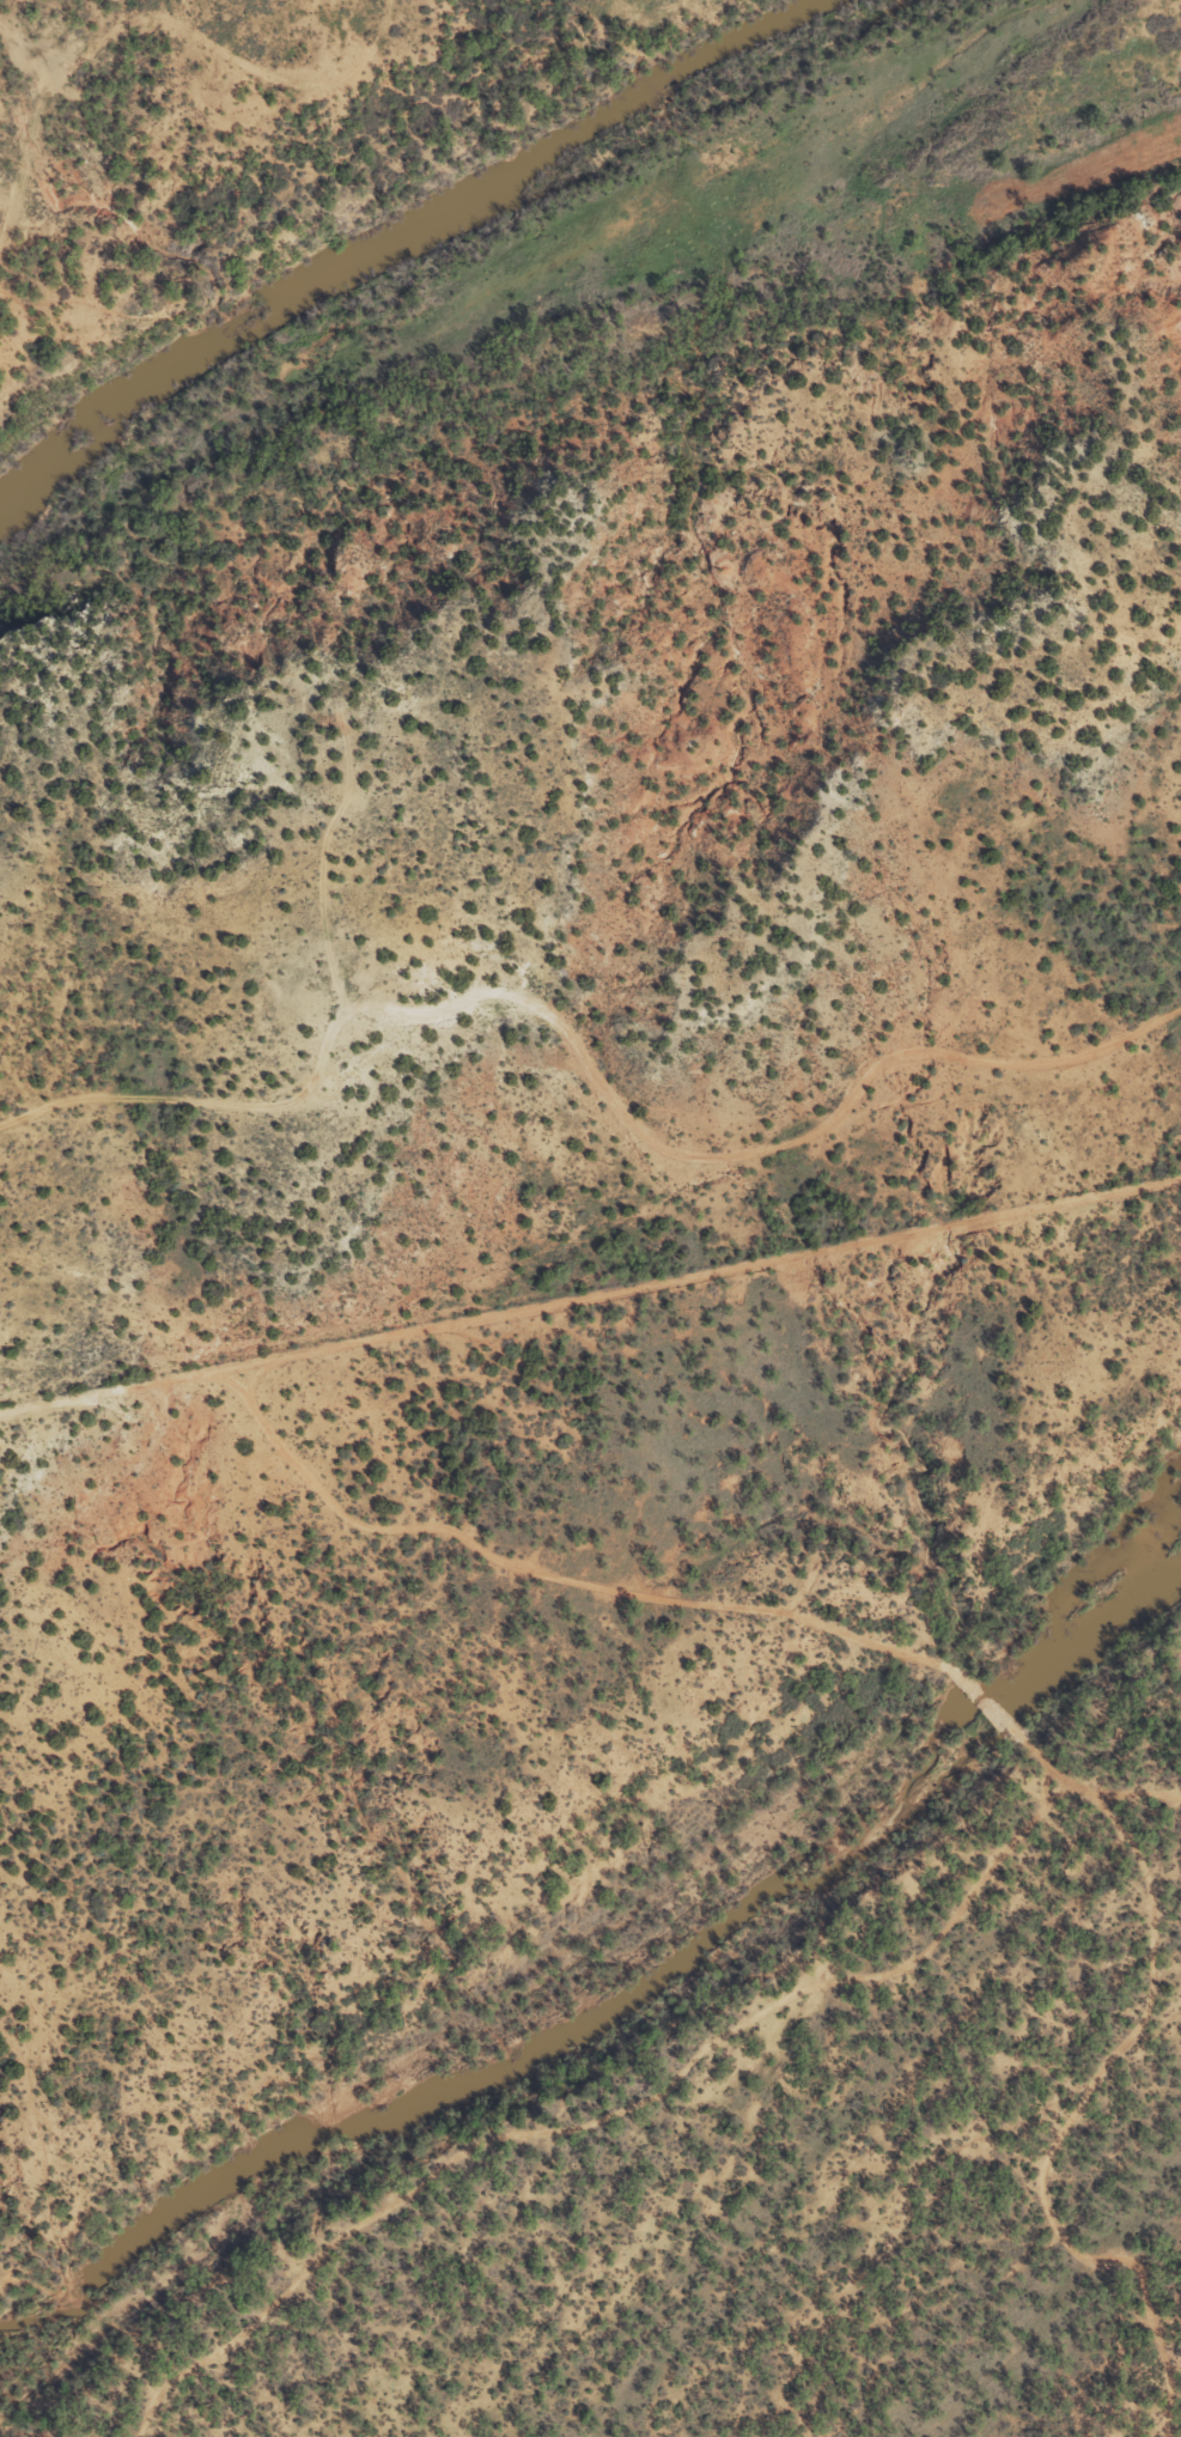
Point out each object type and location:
river: (414, 249)
river: (622, 1998)

